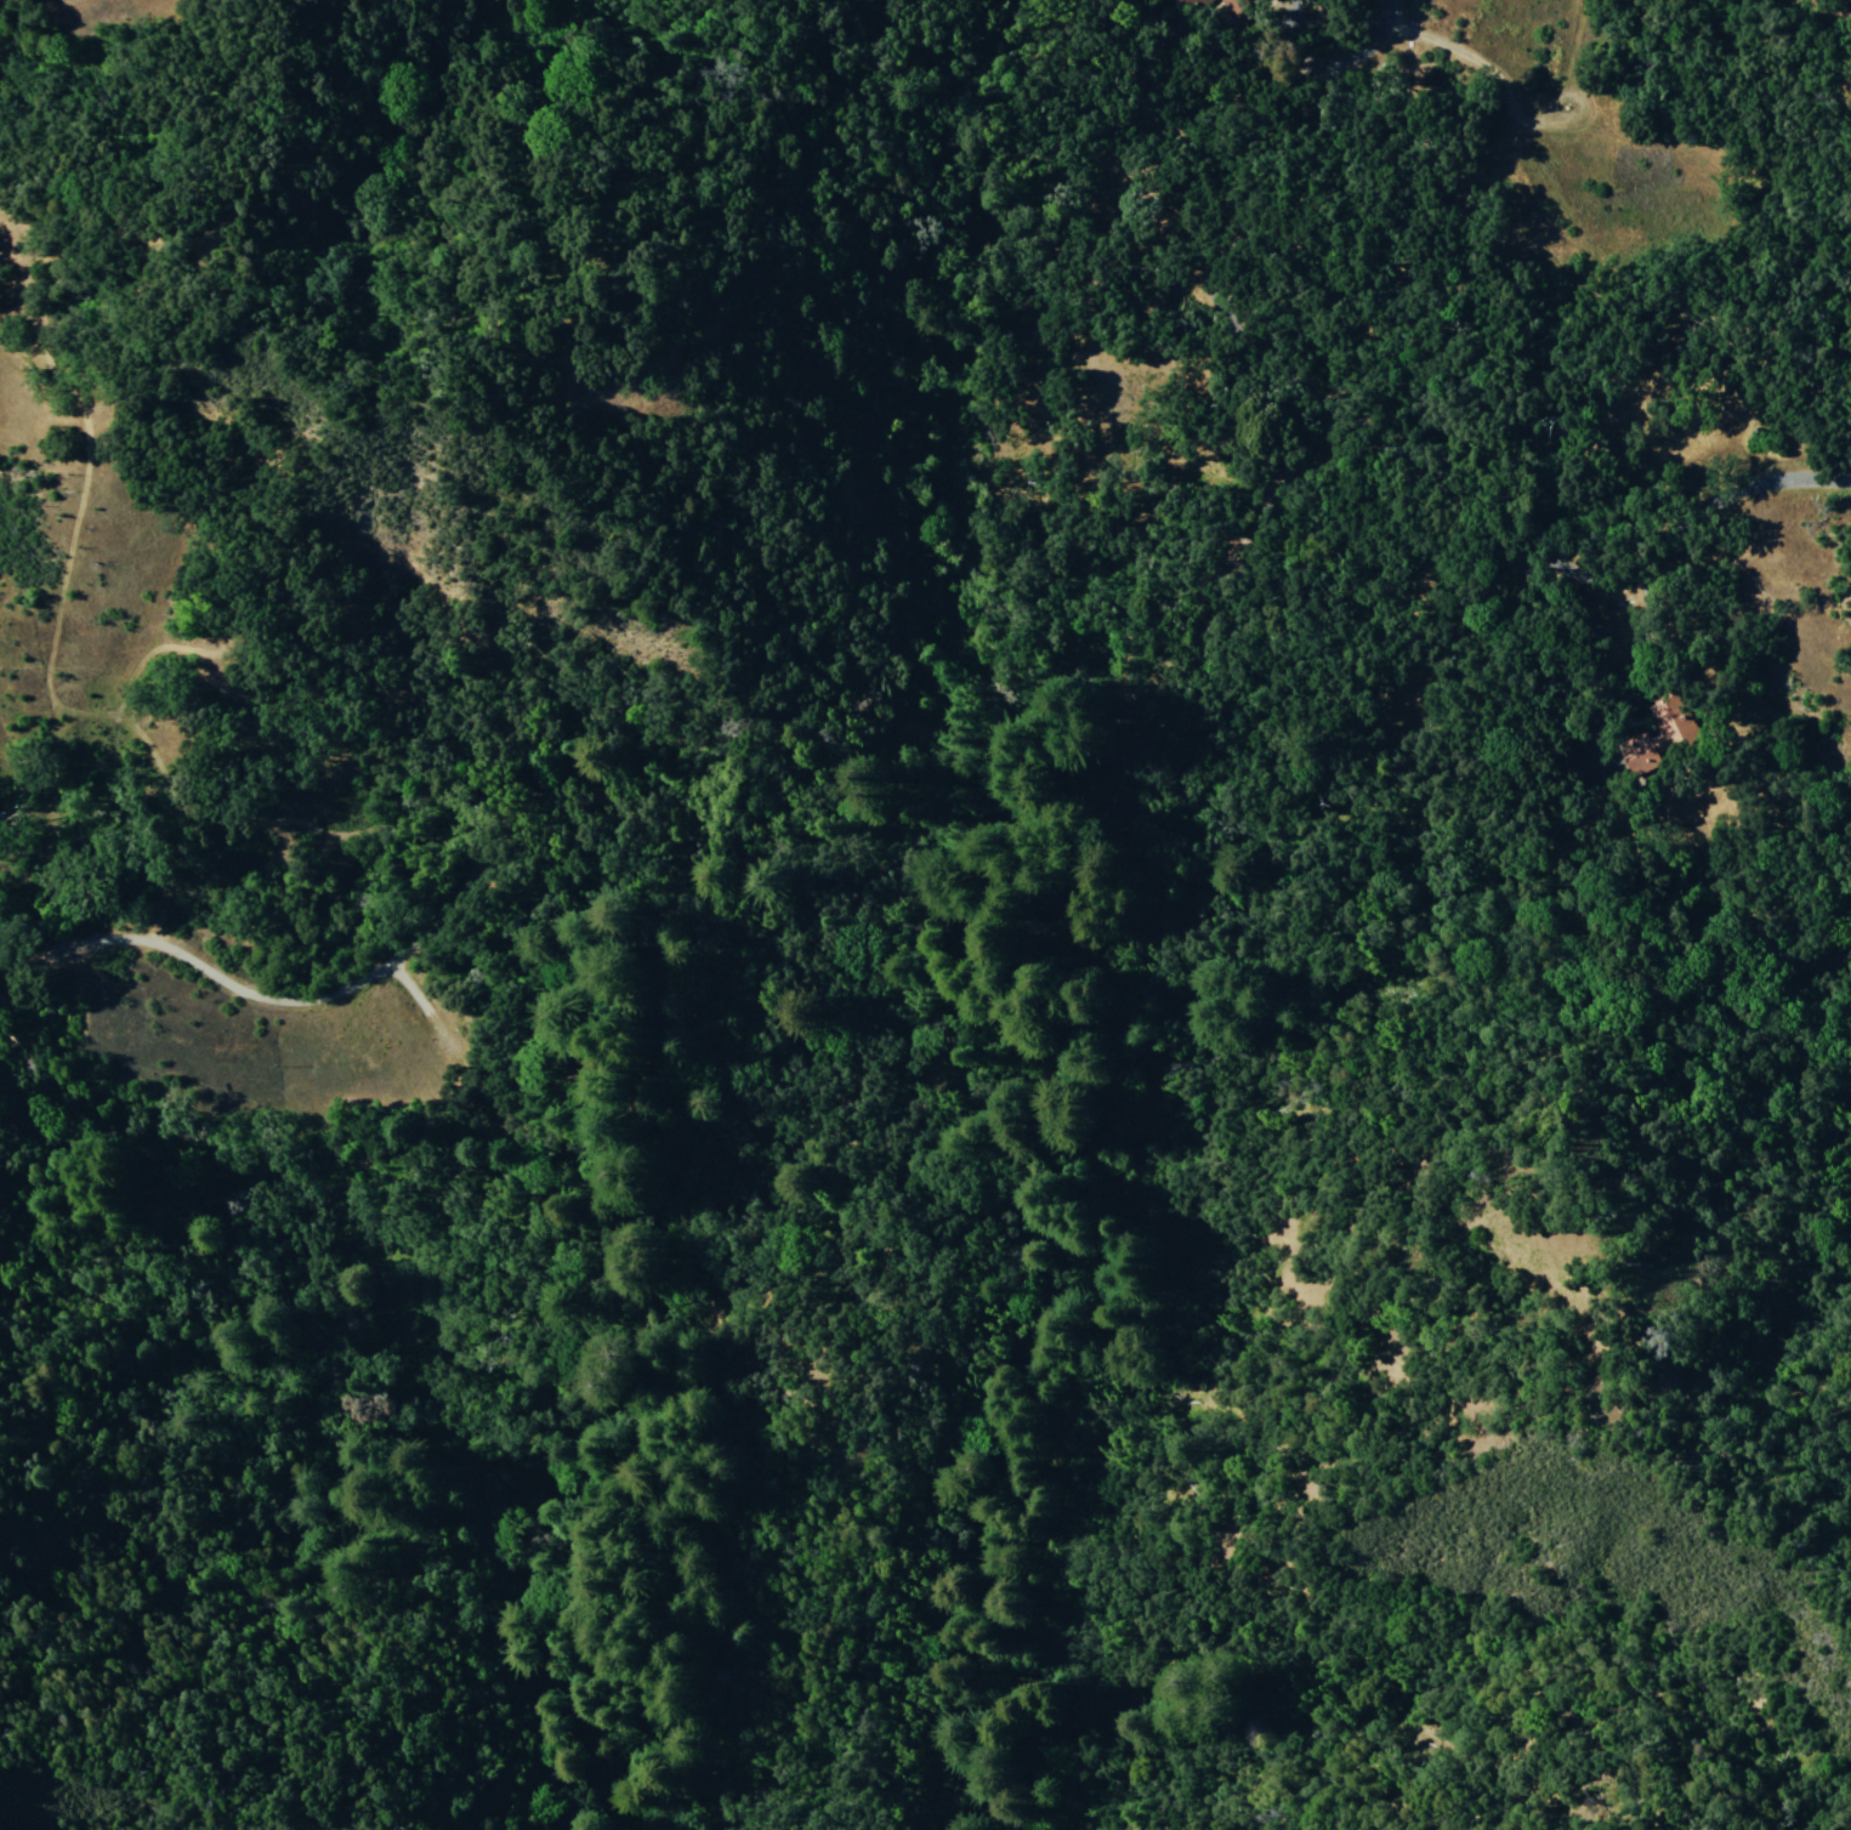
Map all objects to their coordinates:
building: (1196, 2)
road: (1372, 424)
building: (1662, 735)
road: (347, 1406)

